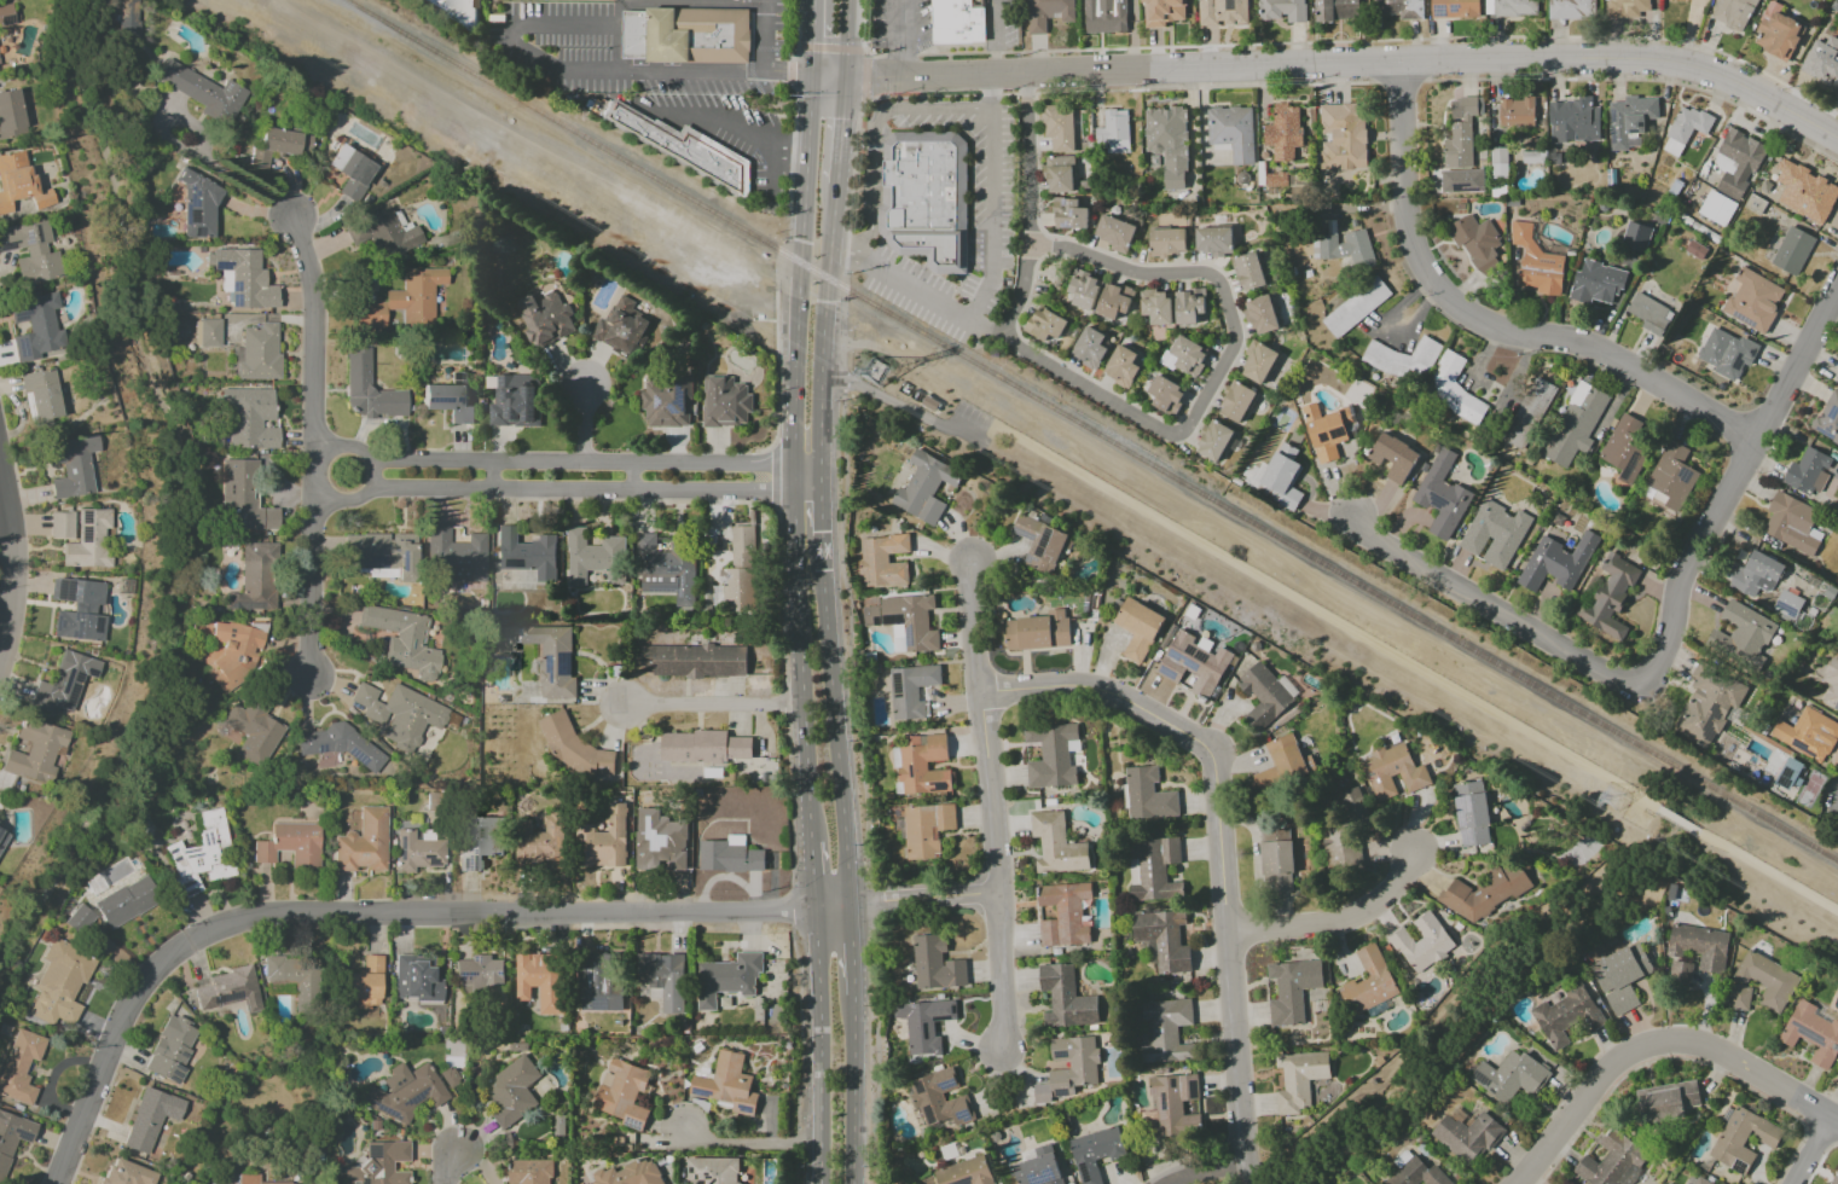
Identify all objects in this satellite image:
road: (730, 0)
building: (1509, 7)
building: (1399, 8)
building: (1454, 8)
rooftop solar panel: (1456, 8)
building: (1625, 8)
building: (1282, 10)
building: (1335, 10)
rooftop solar panel: (1445, 10)
building: (1571, 10)
building: (458, 12)
building: (1162, 12)
building: (1222, 12)
building: (1046, 13)
building: (1732, 13)
building: (6, 16)
building: (1104, 16)
rooftop solar panel: (7, 19)
building: (129, 19)
building: (962, 22)
road: (796, 30)
road: (765, 34)
building: (689, 35)
flagpole: (779, 35)
building: (1778, 35)
road: (863, 36)
road: (995, 37)
road: (814, 39)
road: (842, 39)
road: (900, 39)
road: (1384, 40)
traffic signals: (814, 41)
road: (618, 45)
road: (857, 51)
road: (899, 56)
building: (1822, 60)
road: (1349, 68)
road: (574, 69)
road: (790, 72)
traffic signals: (785, 74)
road: (788, 74)
road: (828, 79)
traffic signals: (865, 80)
parking lot: (645, 83)
building: (203, 93)
building: (1515, 112)
building: (11, 115)
traffic signals: (839, 121)
building: (1572, 121)
building: (1629, 121)
road: (743, 127)
building: (1057, 128)
road: (876, 129)
building: (1685, 129)
road: (837, 132)
building: (1112, 132)
building: (1231, 132)
building: (1282, 132)
building: (1461, 134)
building: (1340, 143)
building: (1167, 144)
building: (682, 145)
building: (278, 146)
road: (790, 147)
road: (789, 156)
building: (1497, 163)
rooftop solar panel: (356, 166)
building: (350, 169)
road: (225, 172)
building: (1059, 174)
building: (18, 182)
road: (852, 186)
rooftop solar panel: (192, 188)
building: (1804, 191)
rooftop solar panel: (198, 193)
building: (927, 198)
road: (992, 202)
rooftop solar panel: (193, 203)
building: (199, 208)
building: (1716, 208)
building: (1068, 214)
rooftop solar panel: (1075, 214)
rooftop solar panel: (187, 215)
rooftop solar panel: (196, 217)
rooftop solar panel: (1069, 225)
parking lot: (991, 232)
rooftop solar panel: (199, 233)
building: (383, 233)
building: (1113, 233)
rooftop solar panel: (37, 234)
building: (1635, 236)
rooftop solar panel: (28, 238)
road: (827, 238)
building: (1213, 240)
road: (800, 242)
building: (1166, 242)
building: (1475, 243)
rooftop solar panel: (7, 246)
building: (1344, 248)
road: (782, 250)
building: (1792, 250)
building: (31, 251)
building: (1536, 262)
rooftop solar panel: (225, 267)
building: (1250, 271)
building: (242, 278)
building: (1595, 283)
road: (914, 289)
building: (1083, 290)
building: (404, 300)
building: (1113, 300)
building: (1753, 301)
building: (1188, 306)
building: (1155, 307)
building: (1355, 307)
building: (1649, 313)
building: (1260, 314)
building: (545, 319)
rooftop solar panel: (1743, 319)
road: (1491, 320)
building: (1044, 324)
building: (36, 325)
building: (620, 327)
building: (207, 332)
building: (1089, 347)
road: (821, 349)
building: (257, 353)
building: (1726, 353)
rooftop solar panel: (1752, 353)
building: (1184, 355)
building: (1401, 360)
rooftop solar panel: (1736, 362)
building: (1258, 364)
building: (1121, 366)
power tower: (872, 372)
road: (776, 377)
building: (1837, 378)
building: (369, 390)
building: (1454, 391)
building: (1166, 395)
building: (40, 397)
rooftop solar panel: (676, 397)
building: (448, 399)
rooftop solar panel: (654, 401)
building: (666, 401)
building: (514, 402)
building: (725, 402)
building: (1236, 402)
rooftop solar panel: (669, 408)
road: (903, 408)
rooftop solar panel: (1832, 410)
building: (1529, 413)
road: (1135, 414)
building: (1828, 419)
road: (584, 422)
parking lot: (967, 423)
building: (1576, 423)
railway: (1091, 426)
building: (1328, 430)
rooftop solar panel: (1827, 431)
rooftop solar panel: (1340, 434)
road: (793, 436)
road: (821, 436)
rooftop solar panel: (1327, 436)
building: (1213, 441)
road: (313, 448)
building: (1624, 448)
building: (1393, 457)
road: (550, 462)
road: (806, 465)
building: (73, 466)
rooftop solar panel: (1631, 466)
building: (1807, 471)
road: (373, 475)
road: (773, 475)
building: (1282, 476)
building: (1671, 476)
building: (924, 487)
road: (564, 488)
road: (1727, 492)
building: (1442, 495)
building: (242, 498)
road: (822, 499)
rooftop solar panel: (86, 517)
building: (60, 524)
building: (1792, 524)
rooftop solar panel: (1022, 533)
building: (1494, 534)
rooftop solar panel: (86, 535)
building: (88, 540)
building: (1039, 542)
rooftop solar panel: (1042, 542)
building: (529, 553)
building: (382, 555)
building: (454, 557)
building: (593, 557)
rooftop solar panel: (1030, 558)
building: (882, 561)
building: (1555, 562)
rooftop solar panel: (376, 563)
road: (8, 564)
building: (742, 565)
building: (665, 570)
building: (1755, 575)
road: (845, 576)
building: (254, 579)
rooftop solar panel: (63, 587)
rooftop solar panel: (660, 588)
rooftop solar panel: (69, 593)
building: (1608, 597)
building: (1786, 604)
rooftop solar panel: (1787, 608)
building: (79, 609)
road: (1491, 610)
road: (1324, 616)
building: (904, 622)
rooftop solar panel: (57, 623)
rooftop solar panel: (424, 623)
rooftop solar panel: (97, 625)
rooftop solar panel: (77, 627)
building: (1137, 628)
rooftop solar panel: (423, 631)
building: (1038, 631)
rooftop solar panel: (230, 634)
building: (1743, 634)
building: (401, 639)
building: (506, 639)
rooftop solar panel: (422, 640)
rooftop solar panel: (1187, 652)
road: (800, 655)
building: (237, 656)
rooftop solar panel: (1202, 656)
rooftop solar panel: (1184, 658)
building: (552, 660)
building: (694, 661)
building: (1193, 662)
rooftop solar panel: (566, 664)
rooftop solar panel: (547, 667)
rooftop solar panel: (92, 672)
rooftop solar panel: (1167, 673)
building: (63, 683)
building: (1831, 684)
rooftop solar panel: (75, 686)
building: (910, 690)
building: (1263, 696)
road: (712, 706)
building: (1706, 707)
building: (400, 713)
road: (835, 719)
rooftop solar panel: (1709, 722)
building: (253, 732)
building: (1808, 733)
rooftop solar panel: (1799, 745)
building: (573, 747)
building: (703, 747)
rooftop solar panel: (321, 749)
building: (34, 750)
building: (1050, 755)
rooftop solar panel: (356, 756)
building: (1288, 759)
building: (921, 765)
building: (1392, 772)
building: (1147, 795)
building: (1355, 806)
road: (990, 807)
rooftop solar panel: (1462, 807)
building: (1471, 813)
road: (1677, 820)
building: (926, 829)
building: (2, 835)
rooftop solar panel: (205, 837)
rooftop solar panel: (209, 837)
rooftop solar panel: (1465, 837)
building: (479, 841)
building: (603, 841)
building: (363, 842)
building: (541, 842)
building: (659, 843)
building: (290, 845)
building: (1056, 845)
road: (1218, 846)
building: (1338, 848)
rooftop solar panel: (173, 849)
rooftop solar panel: (399, 849)
rooftop solar panel: (476, 851)
rooftop solar panel: (189, 852)
building: (416, 852)
rooftop solar panel: (193, 855)
building: (201, 855)
rooftop solar panel: (469, 855)
building: (729, 855)
rooftop solar panel: (175, 859)
building: (1276, 860)
rooftop solar panel: (430, 861)
building: (1154, 870)
road: (1768, 872)
road: (811, 876)
rooftop solar panel: (186, 882)
rooftop solar panel: (191, 889)
building: (1484, 893)
road: (922, 898)
building: (126, 902)
building: (1063, 913)
road: (375, 915)
building: (79, 921)
road: (1335, 923)
building: (1162, 940)
building: (1421, 942)
building: (1699, 946)
road: (850, 948)
rooftop solar panel: (475, 959)
building: (935, 964)
building: (480, 971)
rooftop solar panel: (459, 974)
rooftop solar panel: (500, 974)
building: (1680, 974)
building: (290, 976)
building: (1620, 976)
building: (414, 979)
building: (662, 979)
building: (726, 979)
building: (1767, 980)
building: (540, 981)
building: (59, 982)
building: (598, 982)
building: (1368, 982)
building: (364, 983)
building: (228, 989)
building: (1291, 989)
building: (1065, 998)
building: (1738, 998)
rooftop solar panel: (227, 999)
rooftop solar panel: (599, 1005)
building: (1566, 1015)
building: (923, 1025)
building: (1166, 1031)
rooftop solar panel: (1808, 1033)
building: (1811, 1033)
road: (1656, 1045)
road: (819, 1046)
building: (170, 1050)
rooftop solar panel: (182, 1056)
building: (19, 1066)
rooftop solar panel: (176, 1067)
building: (1068, 1068)
building: (1512, 1075)
building: (1837, 1075)
rooftop solar panel: (174, 1076)
rooftop solar panel: (1483, 1078)
building: (1298, 1079)
rooftop solar panel: (169, 1080)
building: (727, 1084)
road: (852, 1089)
building: (511, 1091)
building: (404, 1092)
rooftop solar panel: (698, 1092)
building: (622, 1093)
building: (939, 1098)
building: (1666, 1101)
building: (1172, 1105)
rooftop solar panel: (744, 1108)
building: (150, 1119)
rooftop solar panel: (632, 1124)
building: (12, 1136)
building: (1467, 1136)
building: (1741, 1138)
road: (749, 1143)
road: (1815, 1150)
building: (1096, 1151)
building: (1612, 1161)
building: (378, 1165)
building: (1037, 1166)
rooftop solar panel: (1740, 1167)
road: (454, 1168)
road: (1202, 1168)
building: (713, 1171)
building: (1414, 1171)
building: (528, 1172)
building: (964, 1172)
rooftop solar panel: (1084, 1173)
building: (630, 1174)
building: (1834, 1178)
building: (256, 1179)
rooftop solar panel: (1040, 1179)
building: (1700, 1180)
rooftop solar panel: (712, 1182)
rooftop solar panel: (701, 1183)

